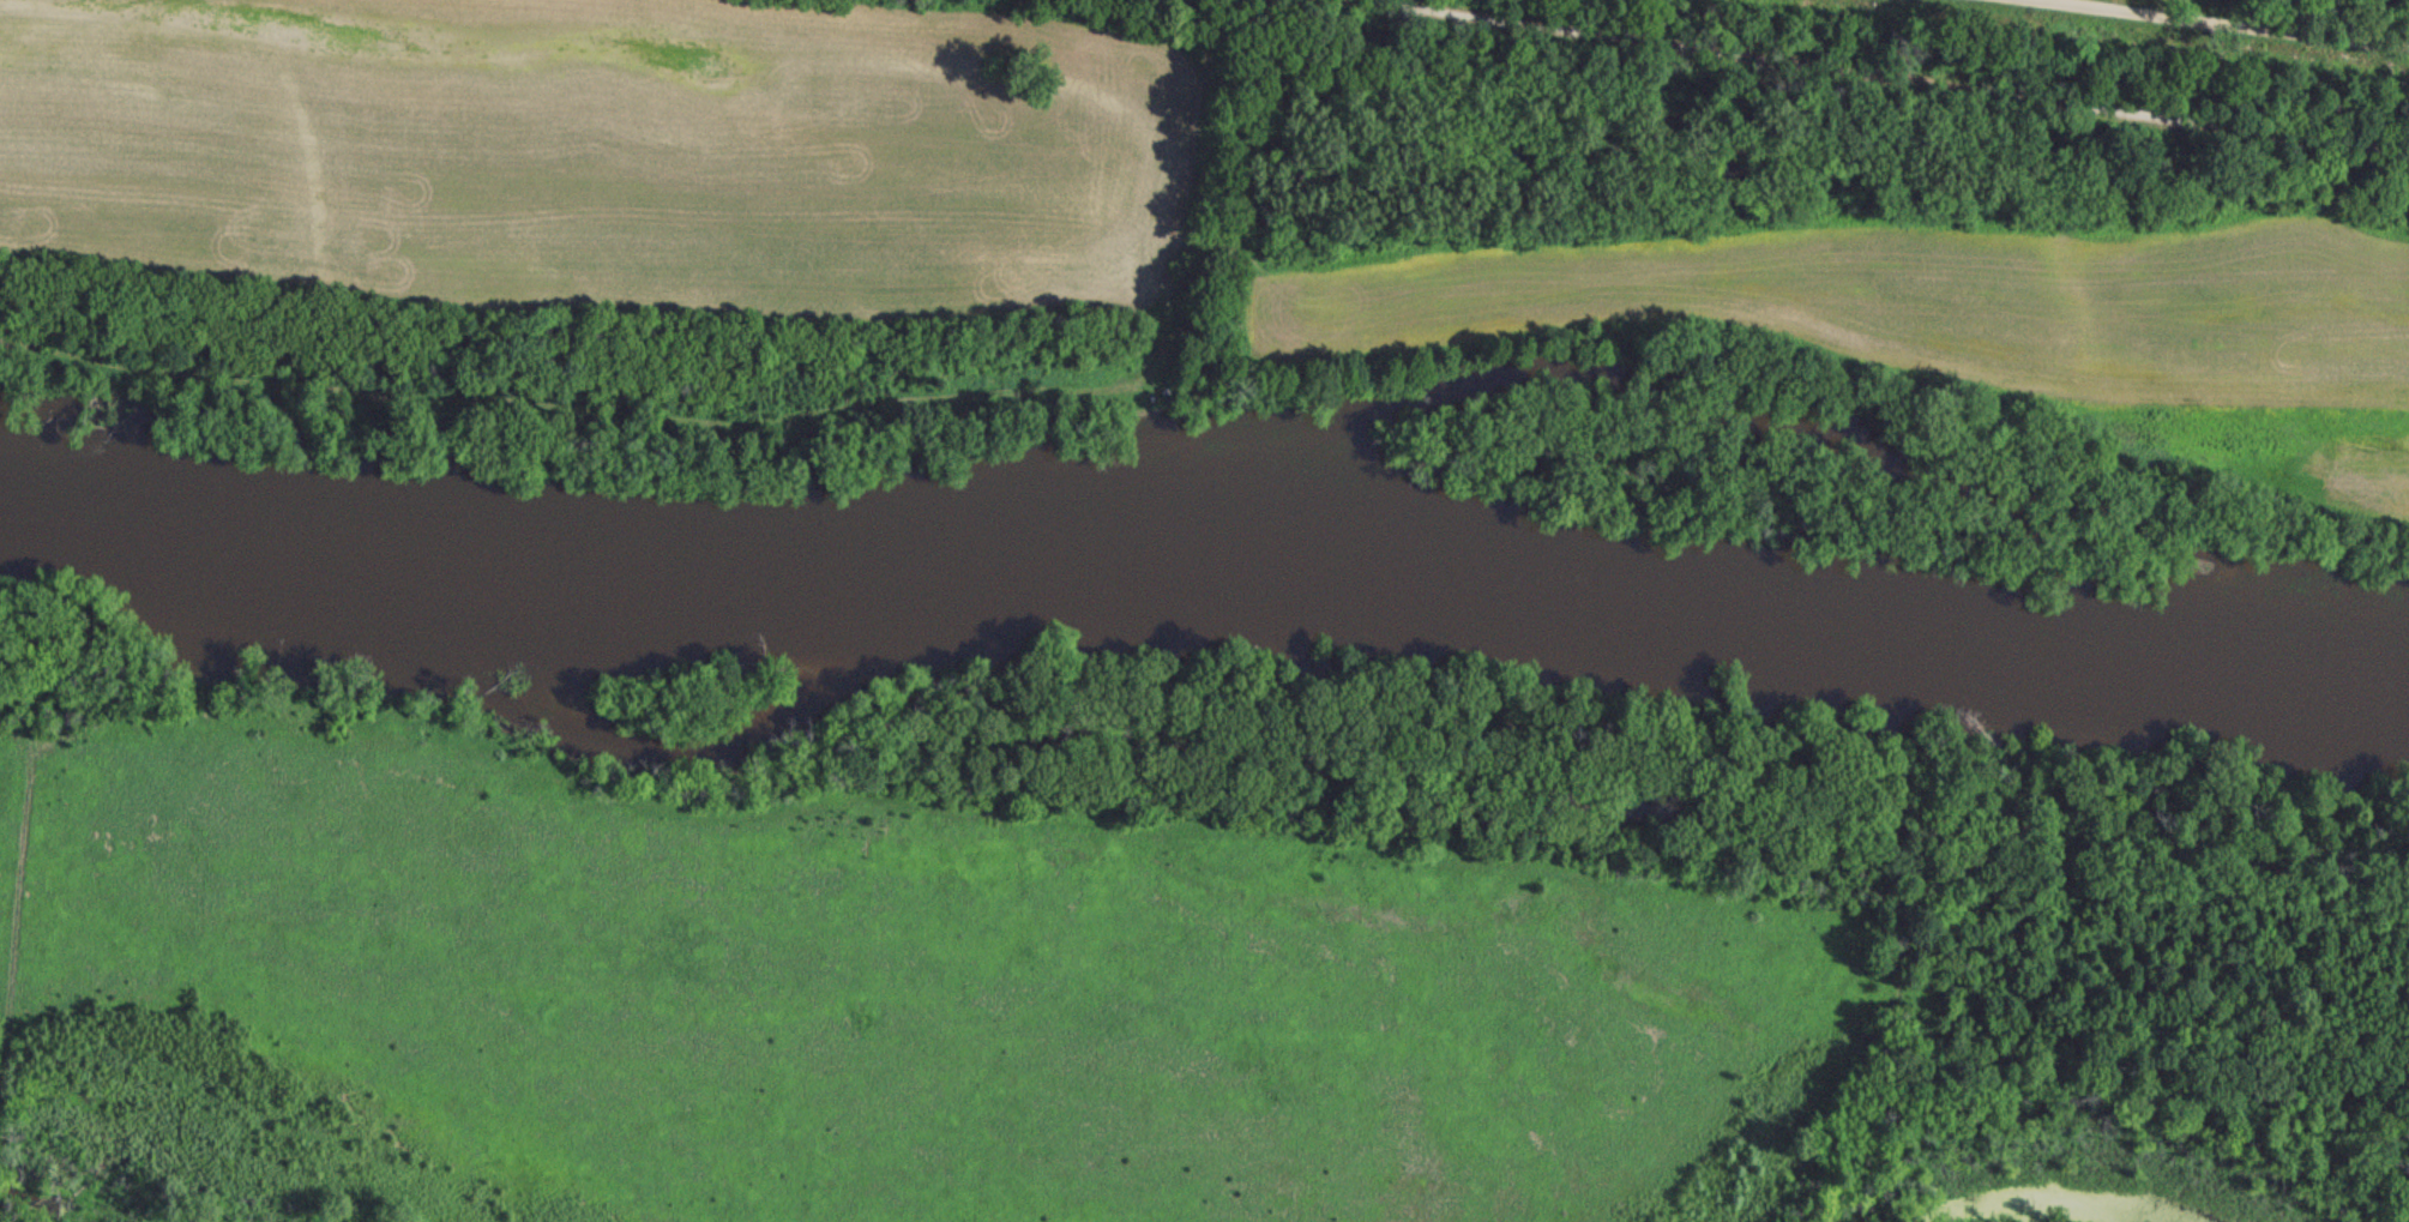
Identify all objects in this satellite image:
road: (2198, 24)
road: (1837, 74)
river: (1204, 577)

